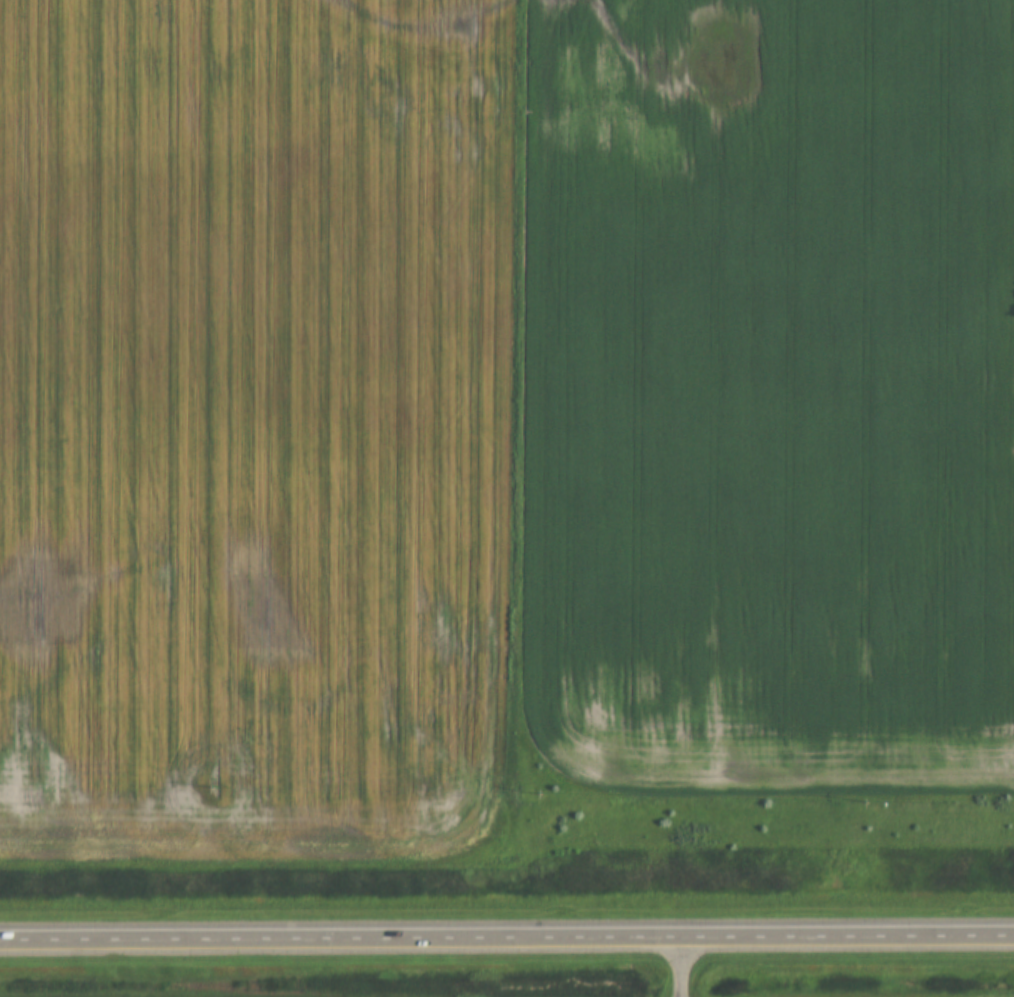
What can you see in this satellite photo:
road: (507, 933)

